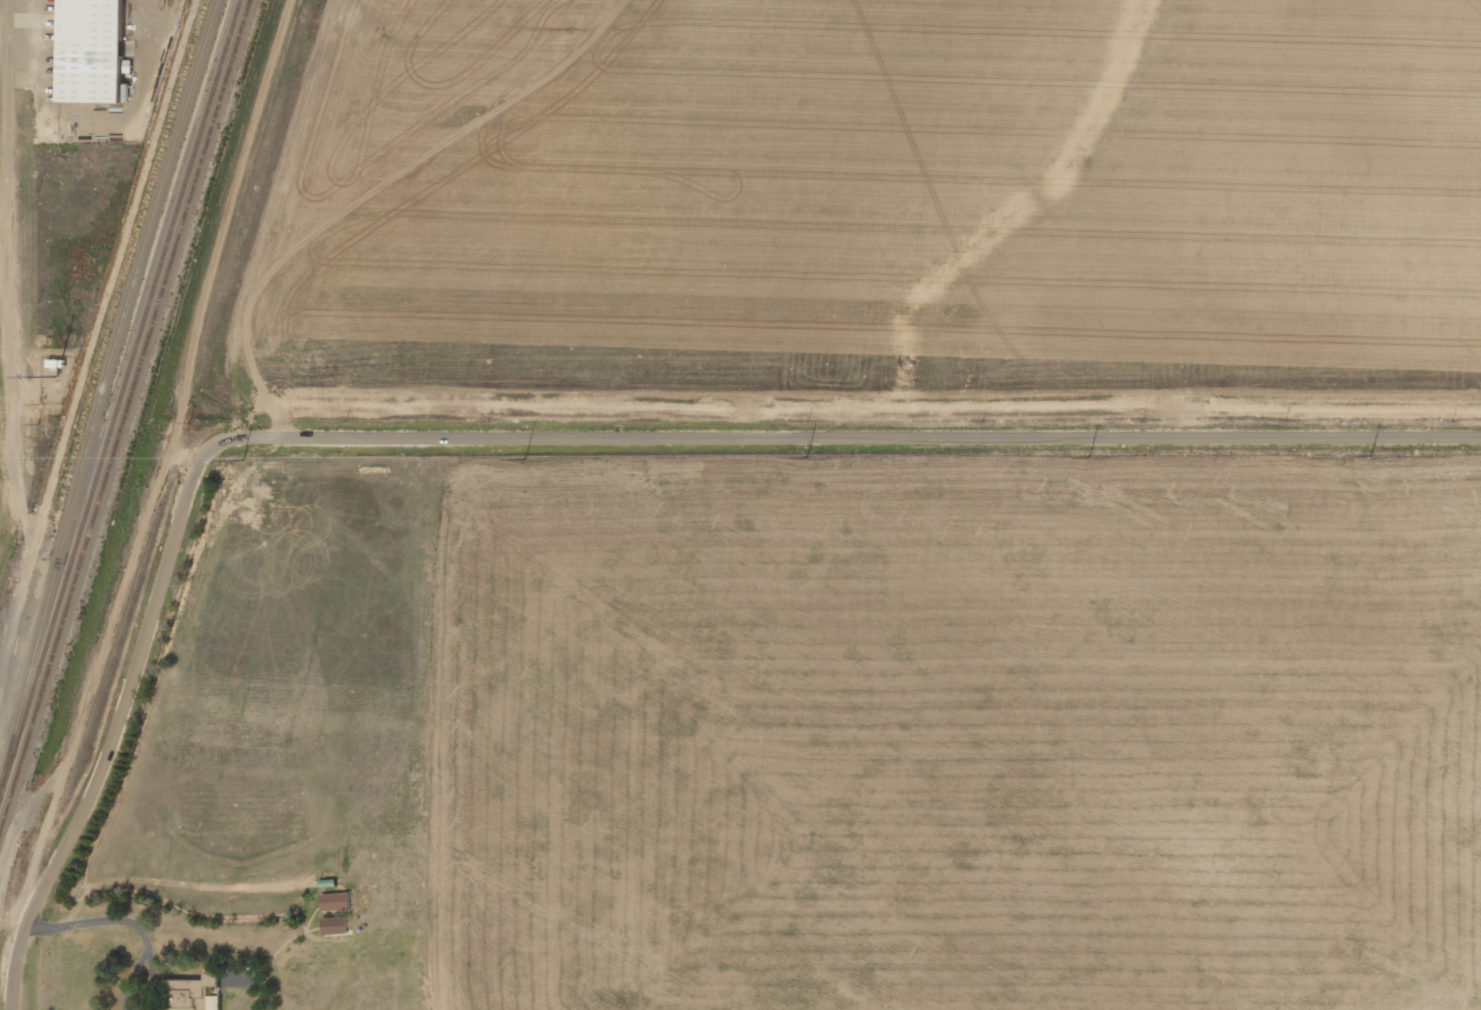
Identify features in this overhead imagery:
building: (91, 50)
railway: (103, 396)
railway: (120, 403)
railway: (125, 418)
road: (855, 433)
power tower: (1294, 457)
power tower: (939, 458)
power tower: (227, 460)
power tower: (584, 460)
road: (120, 721)
building: (335, 901)
building: (335, 925)
building: (192, 992)

